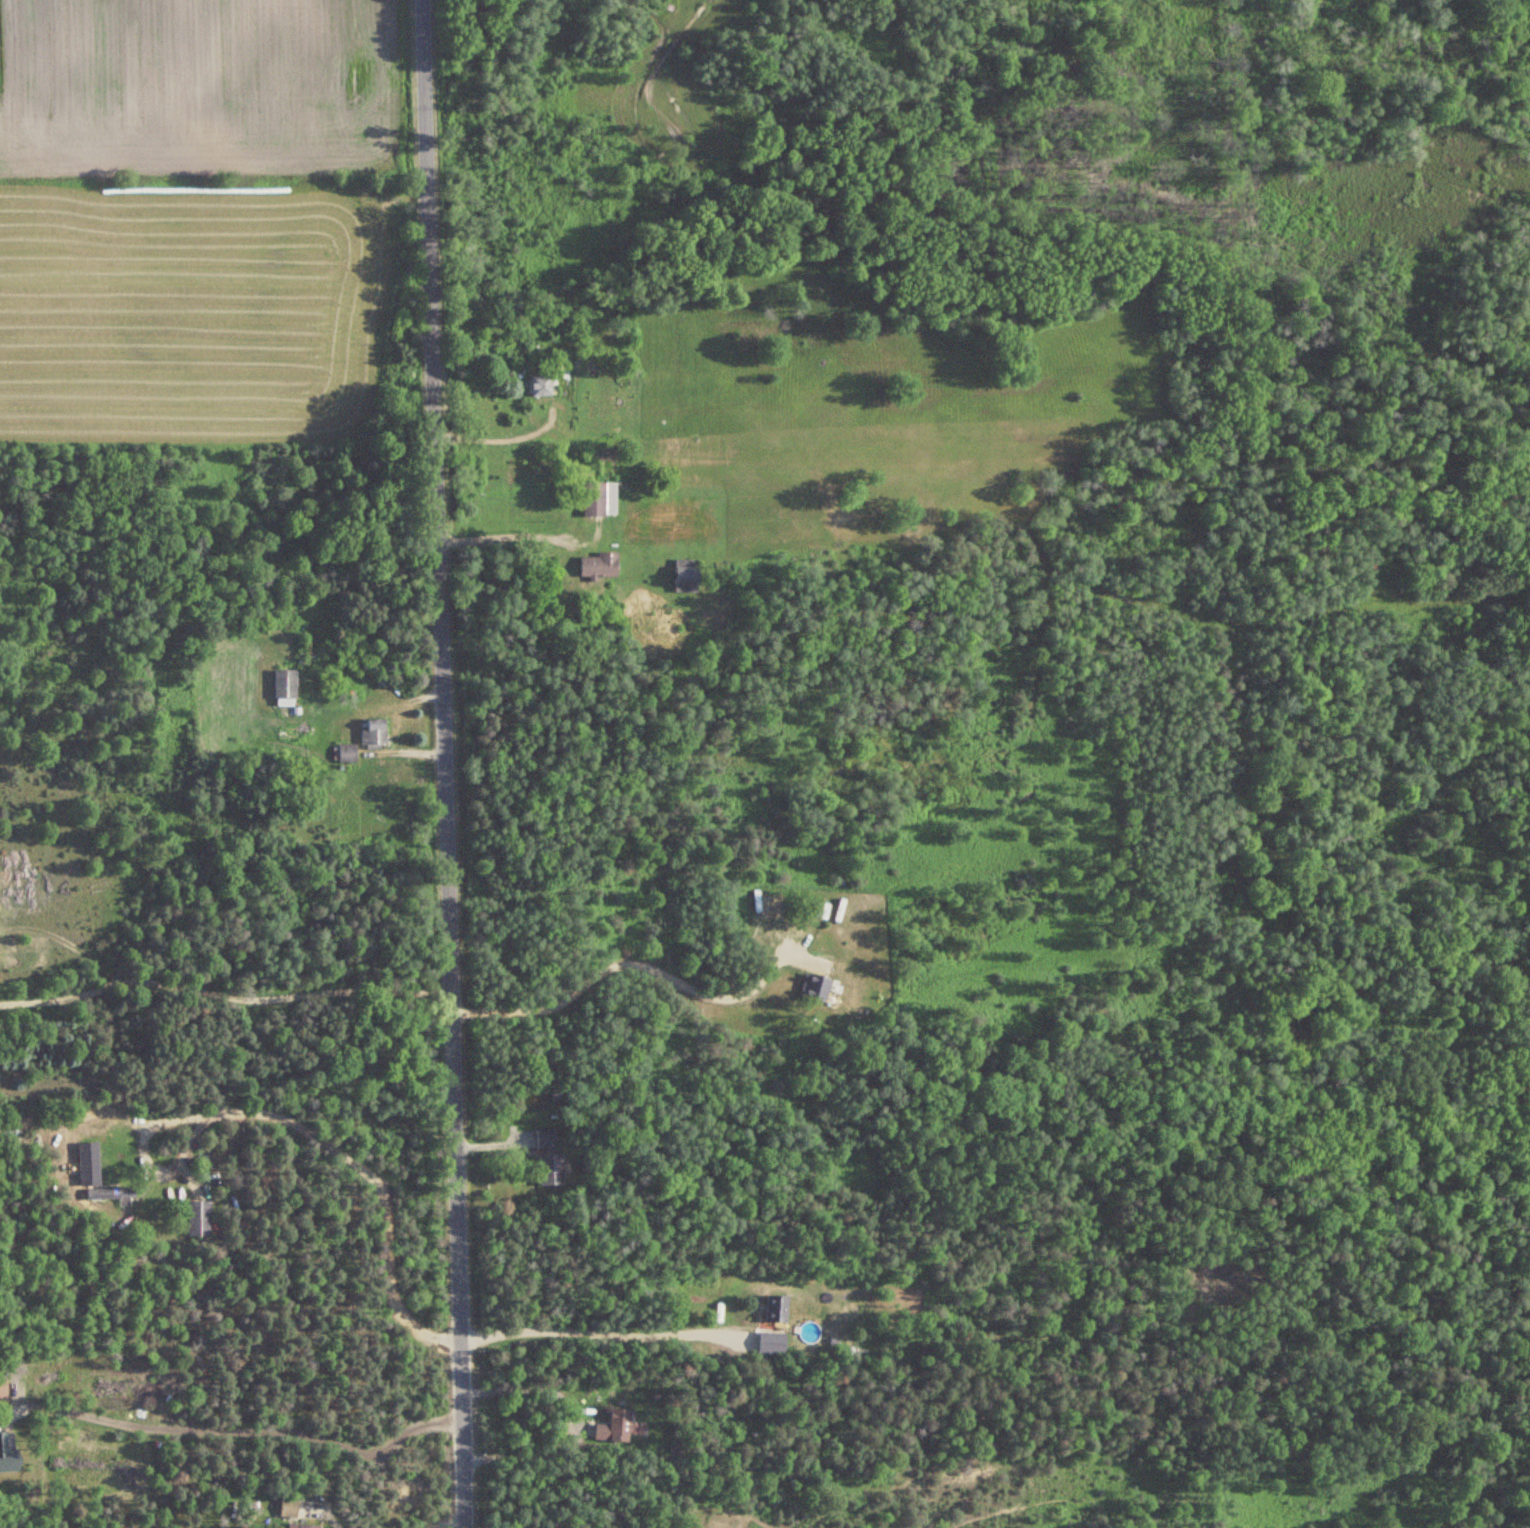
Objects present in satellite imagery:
building: (537, 386)
building: (590, 499)
road: (506, 534)
building: (595, 566)
building: (681, 576)
building: (280, 688)
building: (369, 734)
building: (342, 753)
road: (441, 764)
building: (819, 911)
road: (628, 961)
building: (810, 987)
road: (222, 993)
road: (293, 1127)
building: (542, 1139)
building: (547, 1169)
building: (107, 1192)
building: (196, 1217)
building: (773, 1308)
road: (576, 1331)
building: (768, 1342)
building: (1, 1390)
road: (580, 1425)
building: (611, 1426)
road: (242, 1429)
building: (6, 1452)
building: (285, 1507)
building: (298, 1525)

